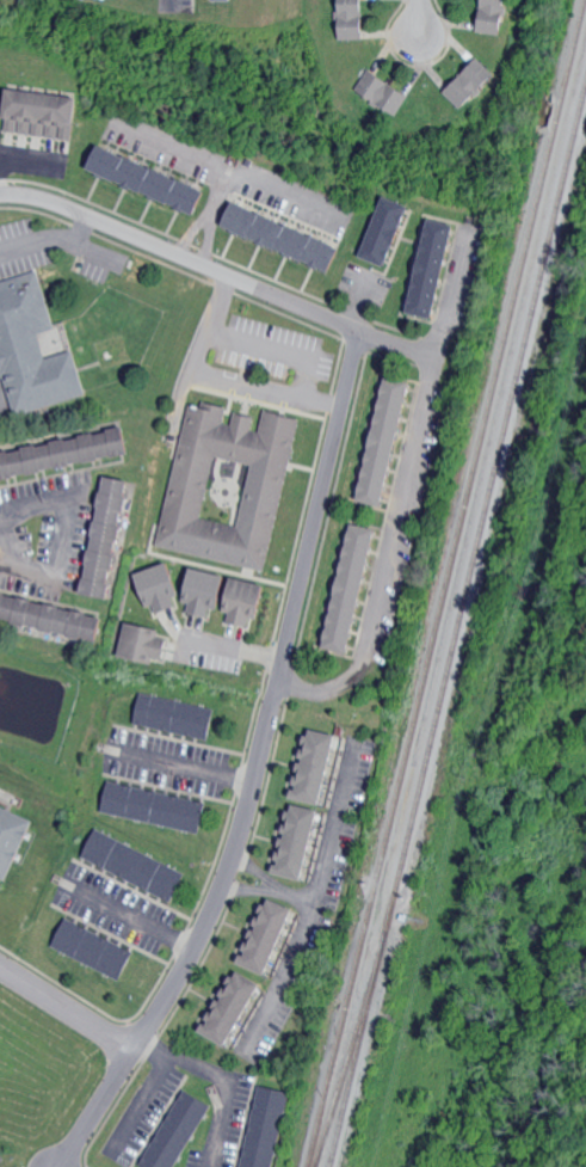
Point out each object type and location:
building: (496, 16)
road: (420, 17)
building: (354, 19)
building: (473, 85)
building: (385, 90)
building: (0, 99)
building: (45, 112)
road: (29, 156)
road: (229, 167)
building: (155, 179)
road: (206, 211)
building: (391, 231)
building: (289, 237)
road: (49, 239)
road: (205, 265)
building: (436, 268)
building: (35, 349)
road: (280, 349)
road: (217, 375)
building: (391, 441)
building: (68, 453)
building: (232, 485)
road: (32, 499)
building: (109, 540)
road: (399, 551)
road: (47, 576)
railway: (446, 583)
building: (161, 586)
building: (356, 588)
building: (228, 595)
building: (54, 616)
railway: (458, 626)
building: (147, 644)
road: (236, 649)
building: (178, 715)
building: (320, 766)
road: (190, 767)
road: (258, 768)
building: (156, 806)
road: (335, 829)
building: (13, 840)
building: (302, 841)
building: (136, 865)
road: (258, 866)
road: (247, 890)
road: (134, 921)
building: (272, 935)
building: (95, 948)
road: (290, 960)
building: (234, 1007)
road: (64, 1009)
railway: (347, 1064)
road: (226, 1075)
building: (269, 1126)
building: (180, 1130)

